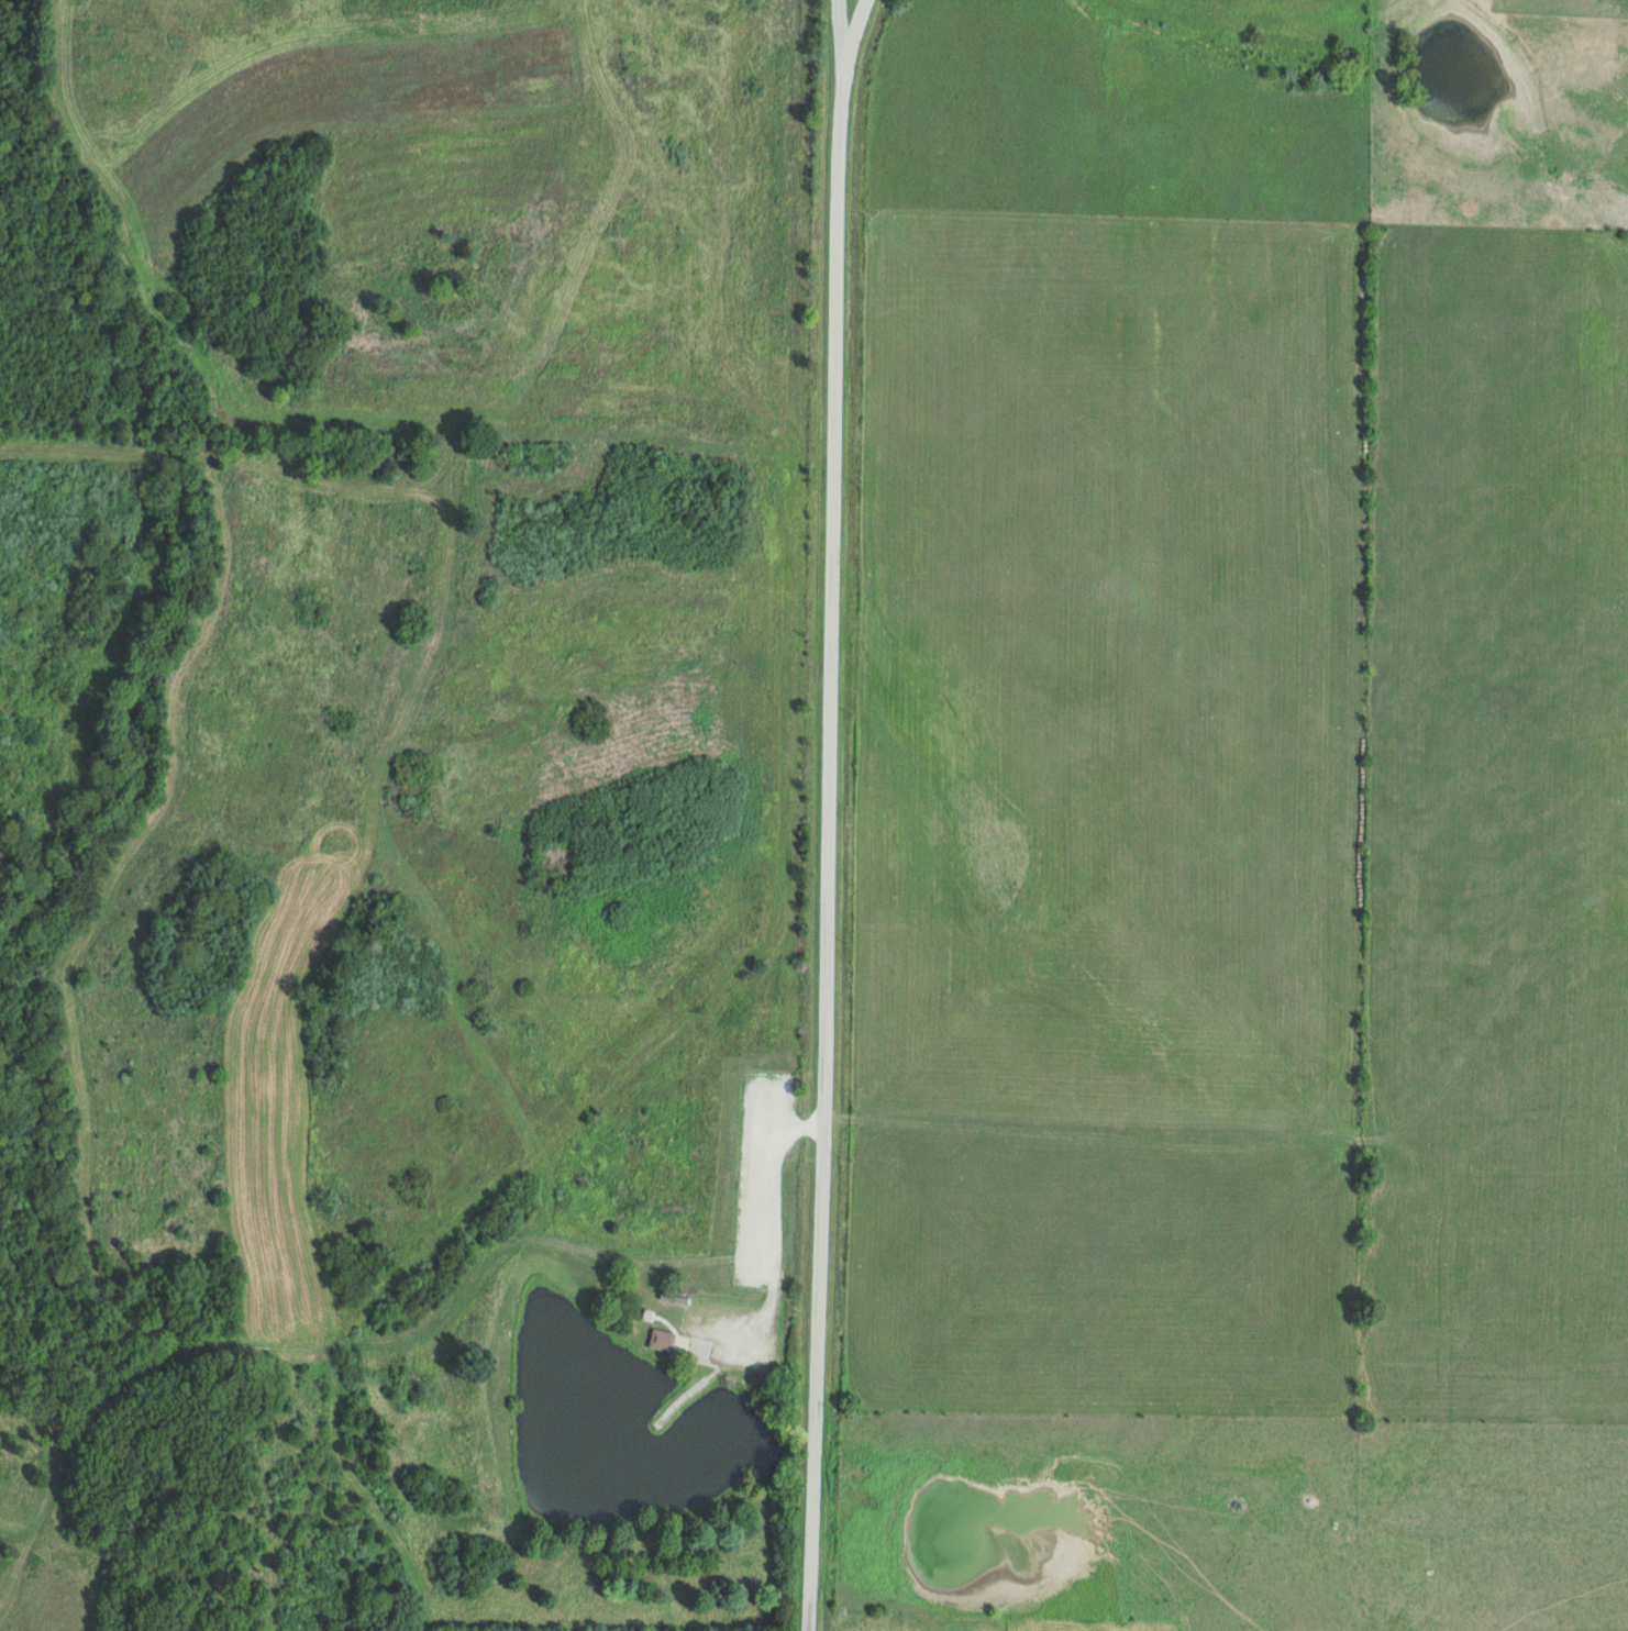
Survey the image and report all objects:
road: (841, 31)
road: (828, 813)
building: (658, 1341)

